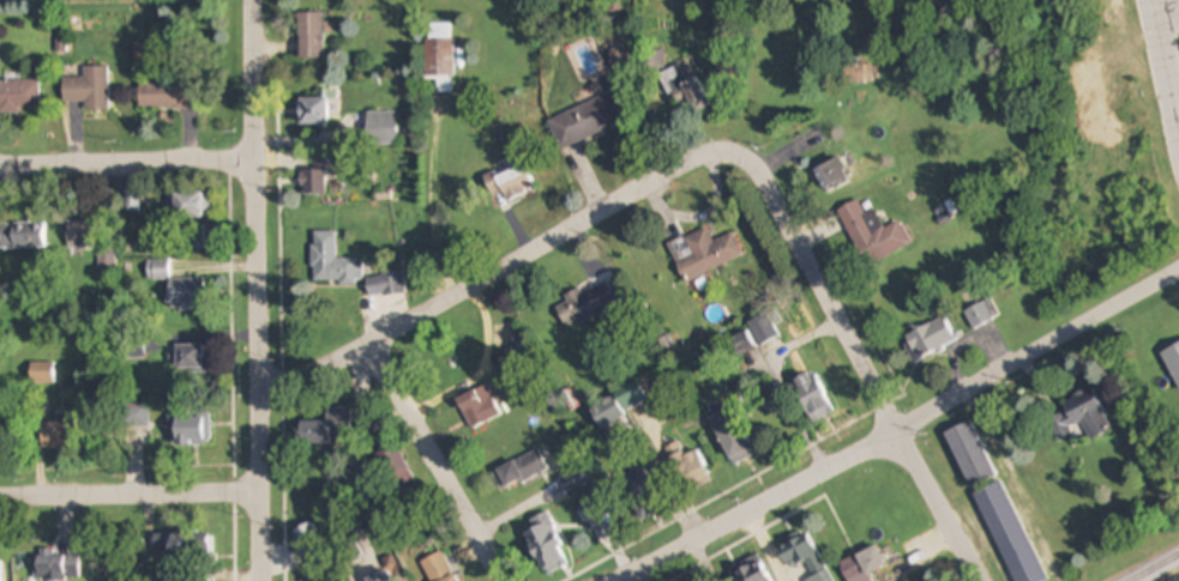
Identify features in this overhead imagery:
road: (1166, 11)
building: (311, 36)
building: (440, 55)
road: (1165, 65)
building: (855, 73)
building: (682, 85)
building: (89, 89)
building: (19, 95)
building: (167, 95)
building: (587, 120)
building: (383, 127)
road: (126, 161)
building: (834, 175)
building: (317, 177)
building: (511, 182)
building: (191, 204)
building: (873, 234)
building: (20, 235)
building: (94, 238)
building: (704, 253)
building: (332, 261)
road: (511, 266)
building: (180, 286)
road: (259, 290)
building: (587, 304)
building: (982, 314)
building: (931, 338)
building: (190, 357)
building: (1173, 362)
building: (41, 373)
road: (866, 379)
building: (814, 395)
building: (479, 407)
building: (618, 410)
building: (1079, 417)
building: (136, 418)
road: (898, 426)
building: (329, 428)
building: (190, 430)
building: (56, 436)
building: (734, 436)
building: (0, 442)
building: (970, 454)
road: (437, 466)
building: (393, 467)
building: (687, 470)
building: (519, 471)
building: (649, 491)
road: (132, 496)
building: (1009, 534)
building: (546, 545)
building: (190, 551)
building: (805, 557)
building: (864, 565)
building: (58, 567)
railway: (1154, 567)
building: (438, 568)
building: (384, 576)

